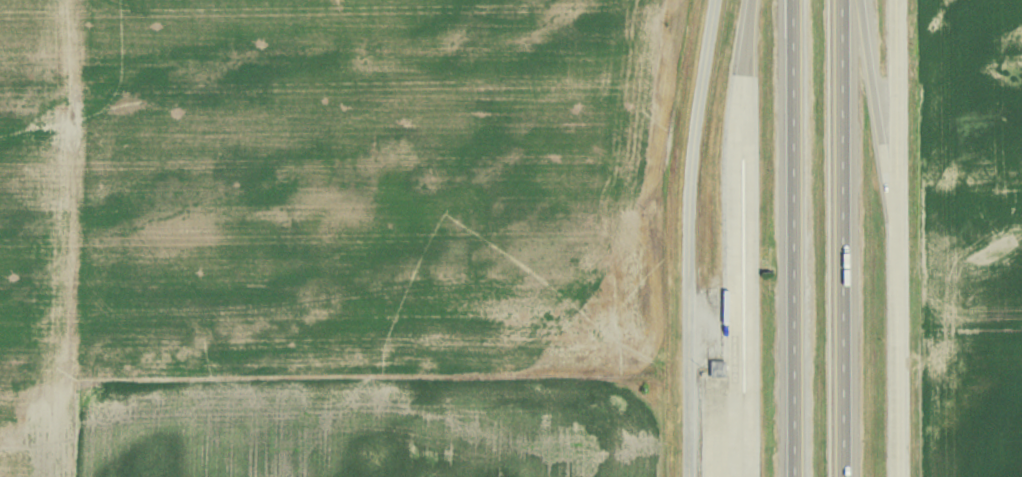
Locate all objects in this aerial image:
road: (744, 40)
road: (878, 112)
road: (897, 112)
road: (691, 237)
road: (796, 238)
road: (845, 238)
road: (734, 278)
road: (901, 350)
building: (716, 368)

